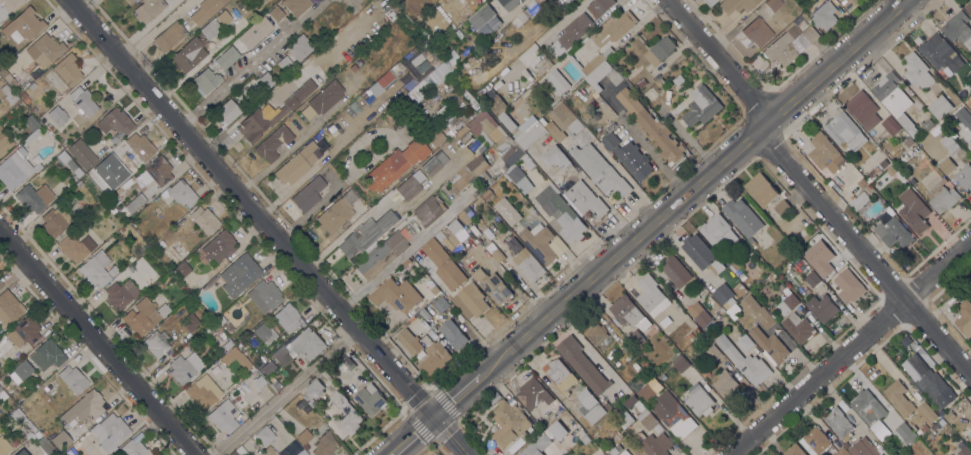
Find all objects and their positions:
building: (130, 1)
building: (788, 1)
building: (709, 2)
building: (849, 3)
road: (79, 4)
building: (510, 4)
building: (735, 5)
building: (773, 5)
road: (87, 6)
building: (295, 6)
building: (535, 6)
building: (599, 6)
building: (968, 6)
building: (8, 7)
building: (148, 10)
building: (205, 10)
road: (895, 12)
building: (276, 14)
building: (824, 15)
building: (481, 16)
building: (224, 18)
building: (23, 25)
building: (958, 27)
building: (211, 28)
road: (554, 28)
building: (616, 28)
road: (153, 29)
building: (255, 32)
building: (757, 32)
building: (457, 33)
building: (571, 33)
building: (811, 33)
building: (169, 36)
building: (423, 44)
building: (784, 44)
building: (299, 47)
building: (44, 50)
building: (414, 50)
building: (659, 50)
building: (465, 51)
building: (607, 51)
building: (940, 52)
building: (433, 53)
building: (188, 55)
building: (227, 57)
building: (416, 60)
road: (721, 60)
building: (2, 62)
building: (422, 62)
building: (584, 63)
road: (250, 64)
building: (285, 64)
building: (917, 70)
building: (441, 71)
building: (3, 72)
building: (63, 74)
building: (206, 80)
building: (266, 80)
building: (383, 81)
building: (556, 82)
building: (642, 82)
building: (660, 82)
building: (317, 85)
building: (962, 91)
building: (623, 92)
building: (891, 92)
building: (8, 94)
building: (25, 97)
building: (323, 99)
building: (83, 101)
building: (495, 103)
building: (701, 105)
building: (940, 106)
building: (863, 109)
building: (961, 109)
building: (227, 111)
building: (57, 115)
building: (266, 117)
building: (565, 118)
building: (967, 119)
building: (456, 120)
building: (115, 121)
building: (507, 121)
building: (30, 122)
building: (906, 122)
building: (926, 124)
building: (890, 125)
building: (845, 130)
building: (936, 130)
building: (554, 131)
building: (501, 135)
building: (30, 136)
building: (660, 136)
building: (435, 137)
building: (5, 141)
building: (909, 141)
building: (950, 143)
building: (274, 144)
road: (294, 145)
building: (140, 146)
building: (969, 146)
building: (824, 151)
building: (82, 154)
building: (628, 155)
building: (555, 156)
building: (526, 158)
building: (118, 160)
building: (69, 163)
building: (434, 163)
building: (884, 163)
building: (297, 164)
building: (395, 164)
building: (530, 164)
building: (15, 168)
building: (599, 169)
building: (891, 170)
building: (156, 171)
building: (958, 171)
building: (475, 172)
building: (871, 175)
building: (520, 179)
building: (913, 180)
building: (861, 182)
building: (410, 185)
building: (124, 186)
building: (760, 188)
building: (868, 188)
building: (106, 191)
building: (182, 193)
building: (308, 194)
building: (487, 194)
building: (784, 194)
building: (942, 196)
building: (34, 198)
building: (585, 198)
building: (479, 200)
building: (859, 200)
building: (135, 203)
road: (674, 206)
building: (782, 207)
building: (112, 210)
building: (428, 211)
building: (561, 212)
building: (913, 212)
building: (336, 213)
building: (742, 216)
building: (464, 217)
building: (204, 220)
building: (56, 221)
road: (266, 227)
building: (453, 229)
building: (716, 229)
building: (893, 230)
building: (364, 235)
building: (148, 239)
building: (752, 241)
building: (539, 242)
building: (219, 246)
building: (75, 247)
building: (697, 250)
building: (387, 251)
building: (435, 251)
building: (494, 251)
road: (865, 253)
road: (401, 254)
building: (818, 257)
building: (529, 264)
building: (97, 269)
building: (182, 269)
building: (429, 270)
building: (739, 273)
building: (449, 274)
building: (679, 274)
building: (239, 275)
building: (770, 275)
building: (437, 279)
building: (812, 279)
building: (208, 283)
building: (1, 284)
building: (779, 284)
building: (492, 285)
building: (739, 288)
building: (850, 288)
building: (434, 290)
building: (121, 294)
building: (396, 294)
building: (723, 294)
building: (651, 295)
building: (264, 296)
building: (470, 300)
building: (787, 304)
building: (435, 307)
building: (822, 307)
building: (9, 309)
building: (756, 310)
building: (629, 312)
building: (699, 313)
building: (144, 316)
building: (964, 317)
building: (287, 318)
building: (737, 318)
building: (220, 320)
building: (410, 320)
building: (665, 321)
building: (190, 322)
building: (798, 327)
building: (695, 330)
building: (23, 332)
building: (264, 333)
building: (453, 333)
building: (597, 334)
building: (689, 335)
building: (635, 340)
road: (98, 341)
building: (409, 341)
building: (744, 341)
building: (156, 343)
building: (307, 343)
building: (770, 344)
building: (227, 345)
road: (587, 347)
road: (852, 350)
building: (230, 351)
building: (713, 353)
building: (47, 355)
building: (282, 355)
building: (435, 357)
building: (744, 361)
building: (345, 362)
building: (680, 362)
building: (582, 364)
building: (185, 367)
building: (21, 368)
building: (267, 368)
building: (706, 372)
building: (560, 374)
building: (662, 376)
building: (72, 379)
building: (259, 381)
building: (929, 381)
building: (726, 384)
building: (50, 387)
building: (315, 388)
building: (645, 391)
road: (283, 392)
building: (203, 393)
building: (2, 395)
building: (305, 395)
building: (535, 396)
building: (899, 397)
building: (370, 398)
building: (603, 400)
building: (700, 401)
building: (311, 402)
road: (450, 404)
building: (589, 406)
building: (867, 406)
building: (85, 407)
building: (557, 408)
building: (306, 409)
building: (351, 411)
building: (927, 411)
building: (564, 412)
building: (941, 412)
building: (643, 413)
building: (18, 415)
building: (673, 415)
building: (223, 416)
building: (626, 418)
building: (538, 419)
building: (838, 421)
building: (509, 422)
building: (924, 426)
building: (30, 428)
building: (537, 429)
building: (592, 430)
building: (110, 432)
building: (904, 433)
building: (970, 433)
road: (417, 434)
building: (264, 436)
building: (526, 436)
building: (305, 439)
building: (585, 439)
building: (61, 440)
building: (815, 441)
building: (325, 444)
building: (516, 444)
building: (656, 444)
building: (846, 444)
building: (970, 444)
building: (536, 445)
building: (3, 446)
building: (863, 447)
building: (920, 448)
building: (48, 449)
building: (134, 449)
building: (289, 449)
building: (963, 449)
building: (794, 450)
building: (894, 450)
building: (239, 451)
building: (269, 451)
road: (397, 451)
building: (21, 452)
building: (624, 452)
building: (841, 452)
building: (301, 453)

